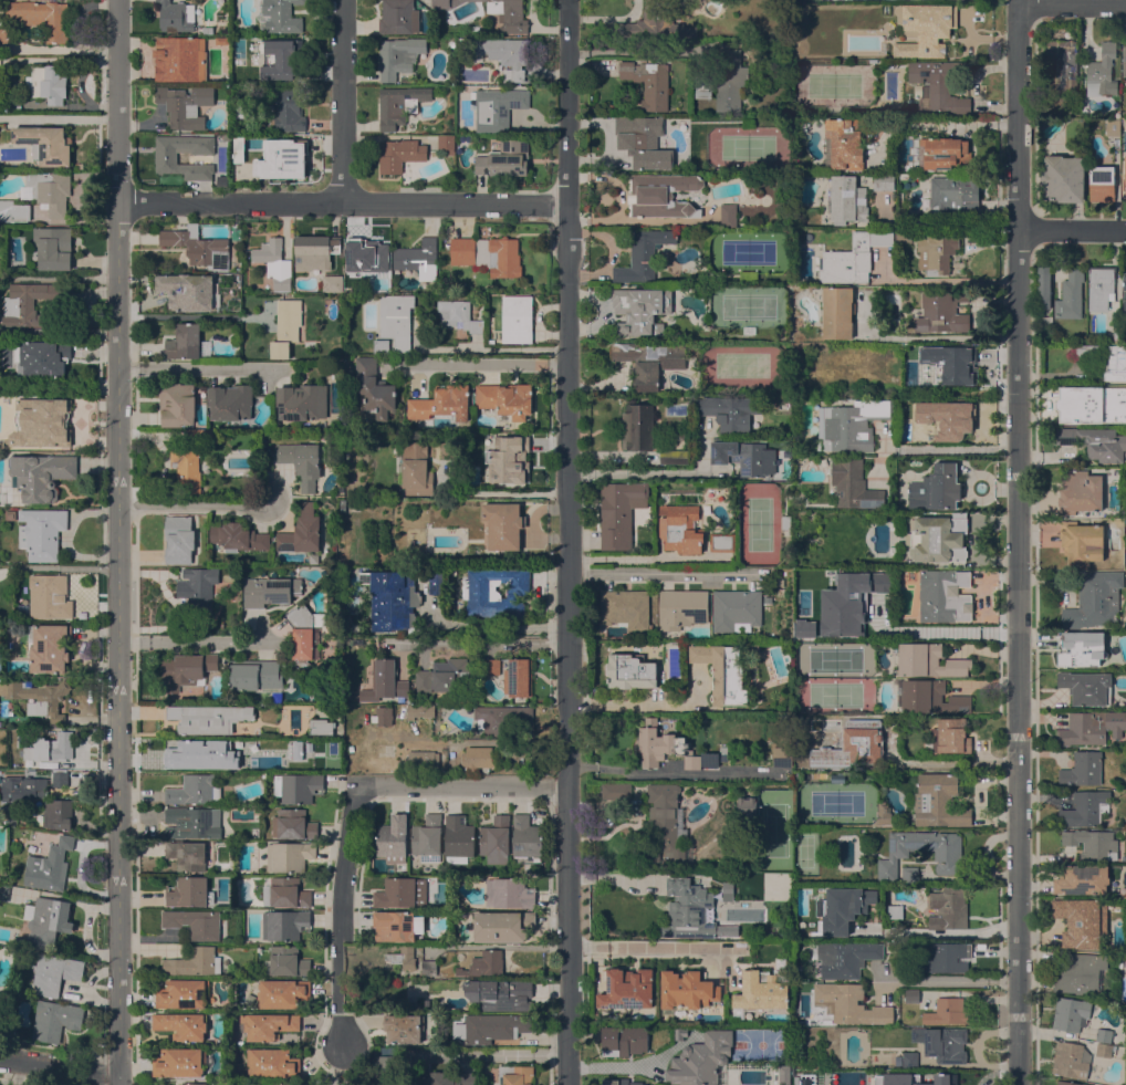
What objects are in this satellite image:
building: (220, 1)
road: (1071, 1)
building: (1, 7)
building: (497, 12)
building: (176, 15)
building: (281, 15)
building: (42, 17)
building: (398, 17)
road: (609, 20)
building: (654, 23)
building: (207, 29)
building: (477, 29)
building: (926, 29)
building: (7, 33)
building: (221, 40)
building: (435, 43)
building: (451, 43)
road: (59, 48)
road: (628, 49)
building: (502, 54)
building: (398, 56)
building: (277, 58)
road: (59, 59)
building: (180, 59)
building: (1124, 60)
building: (1062, 65)
building: (1102, 71)
building: (723, 80)
building: (648, 82)
building: (46, 83)
building: (940, 83)
building: (11, 101)
road: (346, 102)
building: (185, 105)
building: (399, 105)
building: (497, 108)
building: (286, 109)
road: (64, 118)
road: (937, 125)
building: (1113, 126)
building: (244, 142)
building: (446, 142)
building: (640, 143)
building: (45, 144)
building: (843, 144)
building: (450, 153)
building: (399, 154)
building: (947, 154)
building: (285, 156)
building: (166, 158)
building: (504, 158)
building: (1063, 178)
building: (1124, 178)
building: (883, 181)
building: (1102, 182)
building: (48, 191)
building: (661, 195)
building: (955, 195)
building: (846, 200)
road: (341, 204)
building: (13, 211)
building: (728, 216)
road: (946, 220)
road: (1071, 229)
building: (905, 236)
building: (198, 246)
building: (53, 248)
building: (315, 251)
building: (936, 253)
building: (367, 254)
building: (487, 254)
building: (643, 254)
building: (418, 258)
building: (852, 258)
building: (274, 263)
building: (749, 274)
building: (1124, 282)
building: (332, 283)
building: (350, 285)
building: (1101, 286)
building: (1044, 288)
building: (187, 291)
building: (1071, 295)
building: (28, 304)
building: (640, 310)
building: (837, 312)
building: (943, 312)
road: (190, 315)
building: (458, 315)
building: (517, 319)
building: (1045, 319)
building: (394, 325)
building: (285, 327)
building: (750, 330)
road: (58, 331)
building: (1116, 333)
road: (929, 336)
building: (187, 343)
building: (1081, 352)
building: (43, 358)
building: (649, 362)
building: (950, 363)
building: (1115, 363)
road: (189, 368)
road: (477, 369)
building: (374, 388)
building: (505, 399)
building: (230, 401)
building: (302, 401)
building: (441, 403)
building: (177, 404)
building: (1091, 404)
building: (729, 411)
building: (947, 417)
building: (41, 422)
building: (851, 424)
building: (637, 427)
building: (201, 436)
building: (1096, 442)
building: (815, 445)
road: (952, 448)
building: (507, 455)
building: (674, 457)
building: (746, 457)
building: (302, 462)
building: (186, 469)
building: (416, 469)
road: (660, 474)
building: (41, 476)
building: (854, 484)
building: (2, 488)
building: (936, 488)
building: (1080, 491)
road: (502, 494)
road: (195, 504)
building: (618, 513)
building: (10, 515)
building: (788, 522)
building: (503, 524)
building: (682, 529)
building: (302, 531)
building: (42, 533)
building: (238, 538)
building: (178, 540)
building: (940, 540)
road: (117, 542)
road: (571, 542)
building: (722, 542)
road: (1016, 542)
building: (1082, 542)
building: (314, 559)
road: (670, 578)
building: (437, 583)
building: (198, 591)
building: (270, 592)
building: (496, 592)
building: (945, 595)
building: (49, 597)
building: (1095, 598)
building: (392, 599)
building: (834, 607)
building: (625, 608)
building: (681, 608)
building: (736, 609)
road: (492, 625)
road: (932, 632)
building: (305, 635)
building: (797, 635)
road: (195, 640)
road: (480, 643)
building: (49, 647)
building: (1081, 648)
building: (929, 660)
building: (491, 667)
building: (187, 670)
building: (630, 671)
building: (722, 672)
building: (455, 674)
building: (256, 677)
building: (519, 677)
building: (423, 681)
building: (385, 682)
building: (1086, 687)
building: (39, 698)
building: (931, 698)
road: (644, 706)
building: (383, 714)
building: (207, 718)
building: (501, 719)
building: (321, 726)
building: (1092, 727)
building: (947, 735)
building: (312, 740)
building: (65, 742)
building: (663, 745)
building: (294, 750)
building: (196, 753)
building: (722, 753)
building: (782, 755)
building: (477, 757)
building: (417, 761)
building: (1086, 769)
road: (666, 772)
building: (837, 779)
road: (462, 783)
building: (31, 785)
building: (298, 786)
building: (195, 790)
building: (616, 790)
building: (939, 801)
building: (748, 805)
building: (1085, 807)
building: (56, 814)
building: (885, 814)
building: (663, 820)
building: (192, 822)
building: (293, 824)
building: (393, 838)
building: (427, 838)
building: (458, 838)
building: (496, 839)
building: (526, 839)
building: (1092, 843)
building: (190, 854)
building: (289, 856)
building: (946, 856)
building: (50, 866)
road: (638, 874)
building: (910, 874)
building: (1083, 879)
building: (4, 891)
building: (189, 891)
building: (285, 893)
building: (402, 894)
building: (509, 894)
building: (844, 907)
building: (947, 907)
building: (688, 910)
building: (895, 911)
road: (341, 915)
building: (48, 919)
building: (1082, 921)
building: (195, 922)
building: (284, 924)
building: (394, 926)
building: (503, 926)
road: (952, 932)
road: (587, 945)
building: (890, 945)
road: (673, 946)
building: (403, 957)
building: (941, 957)
building: (844, 958)
building: (195, 961)
building: (289, 961)
building: (483, 963)
building: (427, 968)
building: (55, 973)
building: (1081, 973)
road: (948, 980)
building: (628, 989)
building: (763, 989)
building: (686, 991)
building: (184, 993)
building: (283, 993)
building: (499, 993)
building: (0, 994)
building: (913, 995)
building: (427, 1003)
building: (849, 1003)
building: (2, 1006)
building: (948, 1012)
building: (1071, 1013)
building: (55, 1019)
building: (183, 1025)
building: (270, 1025)
building: (404, 1027)
building: (490, 1027)
building: (1104, 1035)
building: (624, 1040)
building: (943, 1043)
road: (974, 1047)
building: (1106, 1050)
road: (494, 1054)
building: (701, 1058)
building: (1072, 1058)
building: (908, 1060)
building: (179, 1063)
building: (272, 1063)
building: (388, 1066)
road: (612, 1066)
road: (58, 1067)
building: (517, 1074)
building: (784, 1074)
building: (859, 1076)
building: (910, 1076)
building: (449, 1078)
road: (101, 1079)
building: (945, 1079)
building: (621, 1082)
building: (1071, 1083)
building: (194, 1084)
building: (279, 1084)

